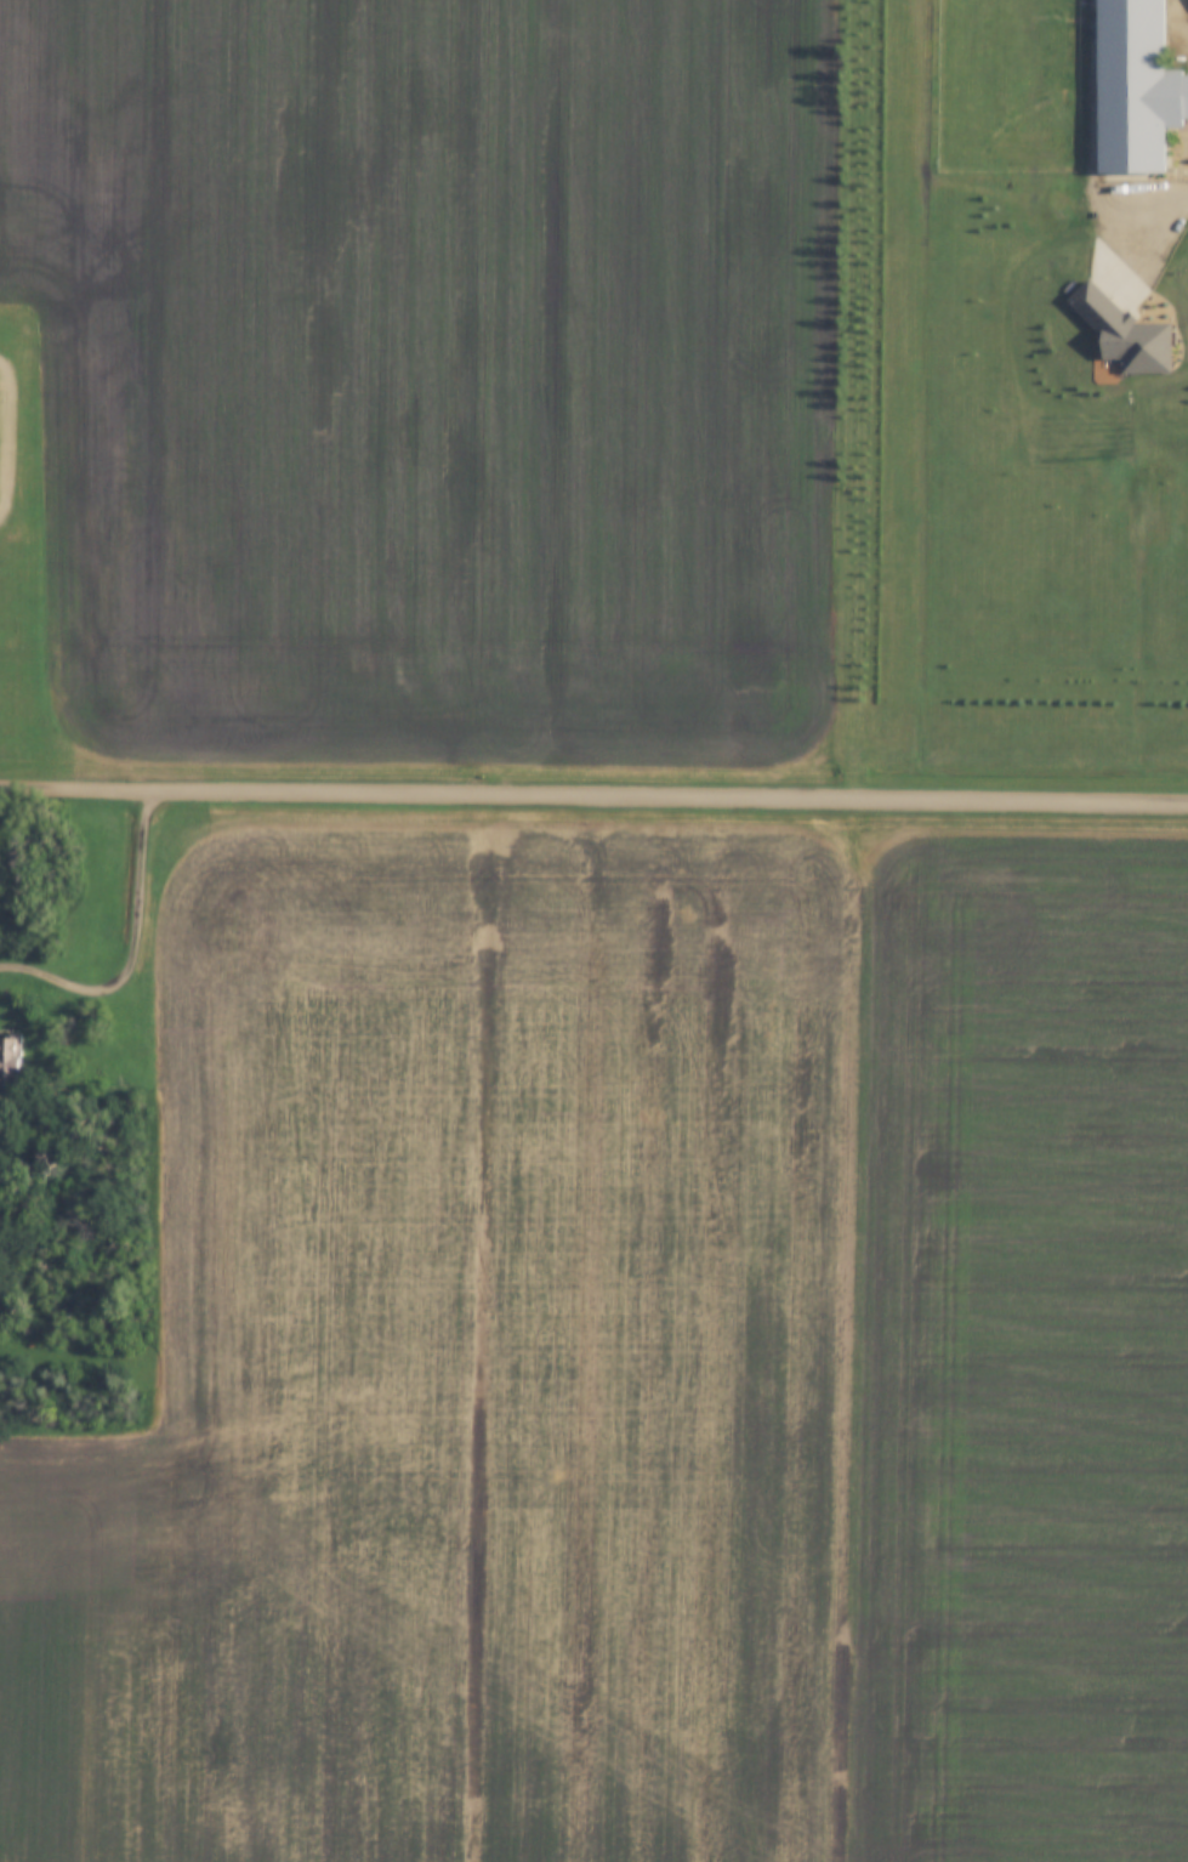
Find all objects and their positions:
building: (1137, 87)
road: (1158, 195)
road: (593, 793)
road: (136, 947)
building: (8, 1061)

